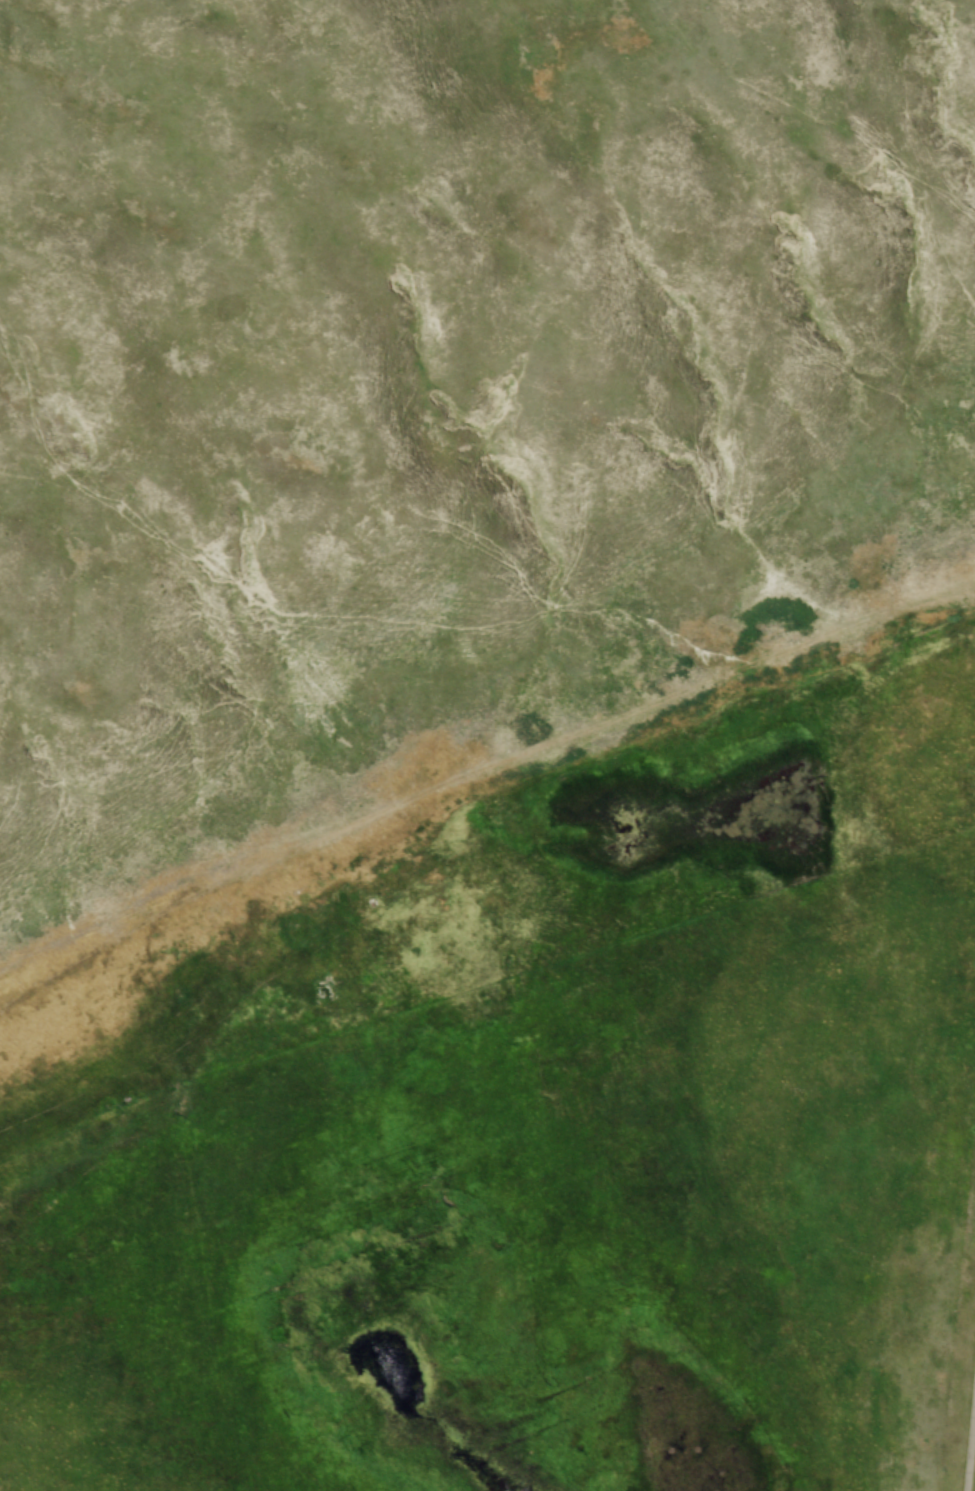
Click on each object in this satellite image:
road: (971, 1447)

